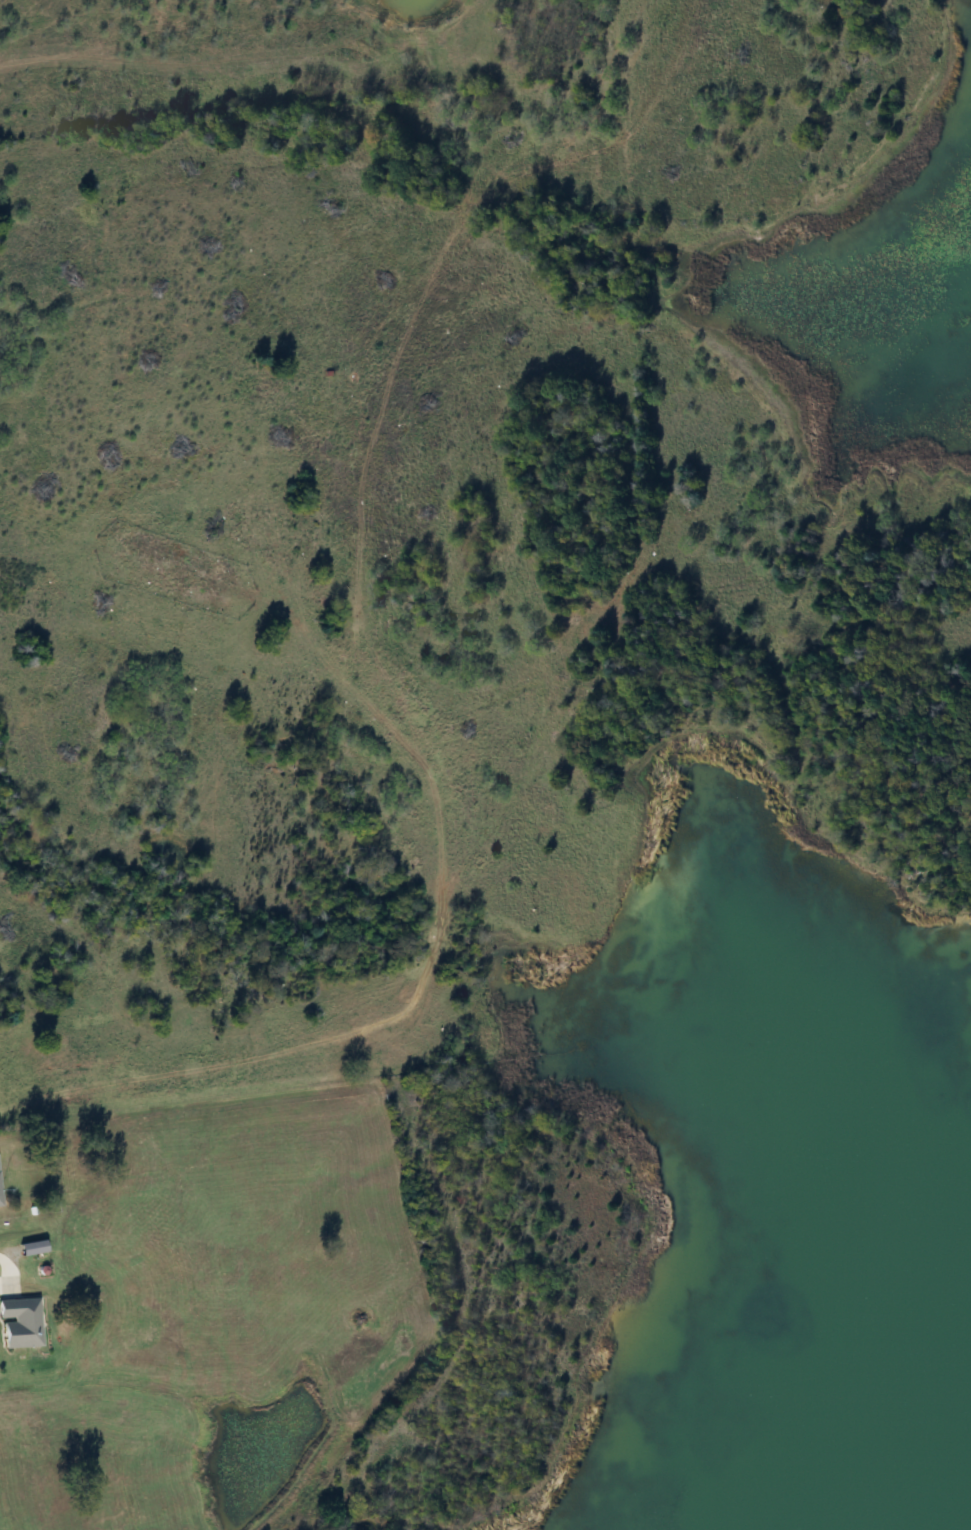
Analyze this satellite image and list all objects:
road: (10, 1266)
building: (18, 1323)

